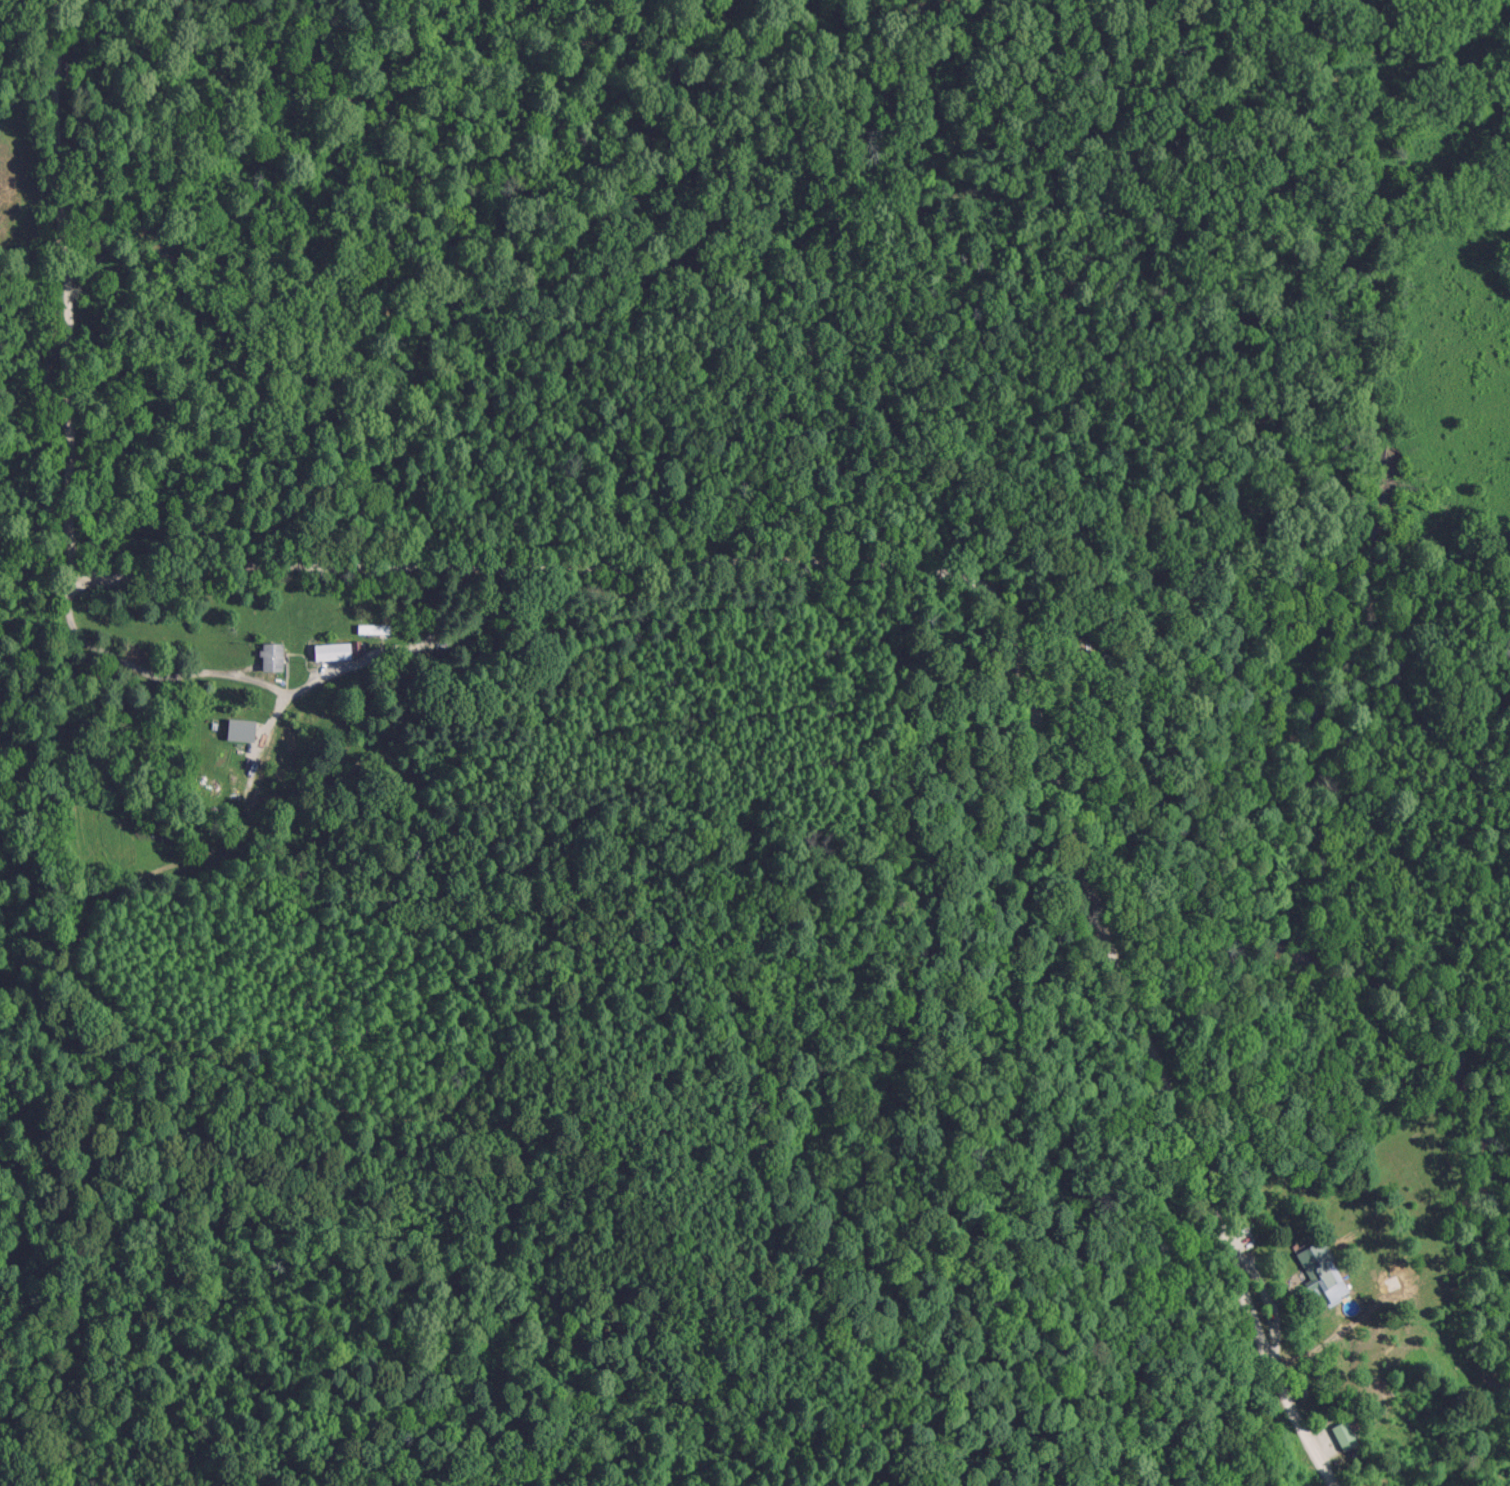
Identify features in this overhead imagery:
road: (734, 556)
building: (371, 629)
building: (336, 650)
building: (273, 655)
building: (242, 756)
building: (1316, 1273)
building: (1339, 1433)

